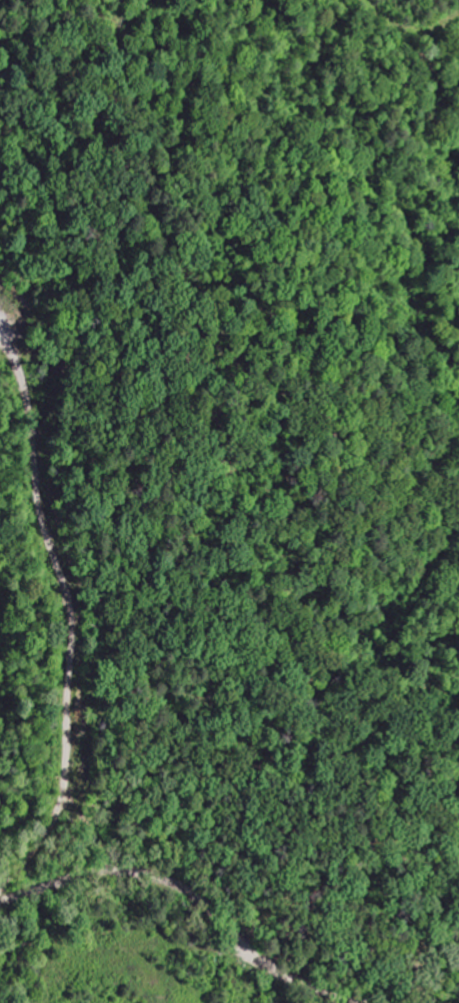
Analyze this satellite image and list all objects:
road: (175, 880)
road: (32, 896)
road: (304, 981)

